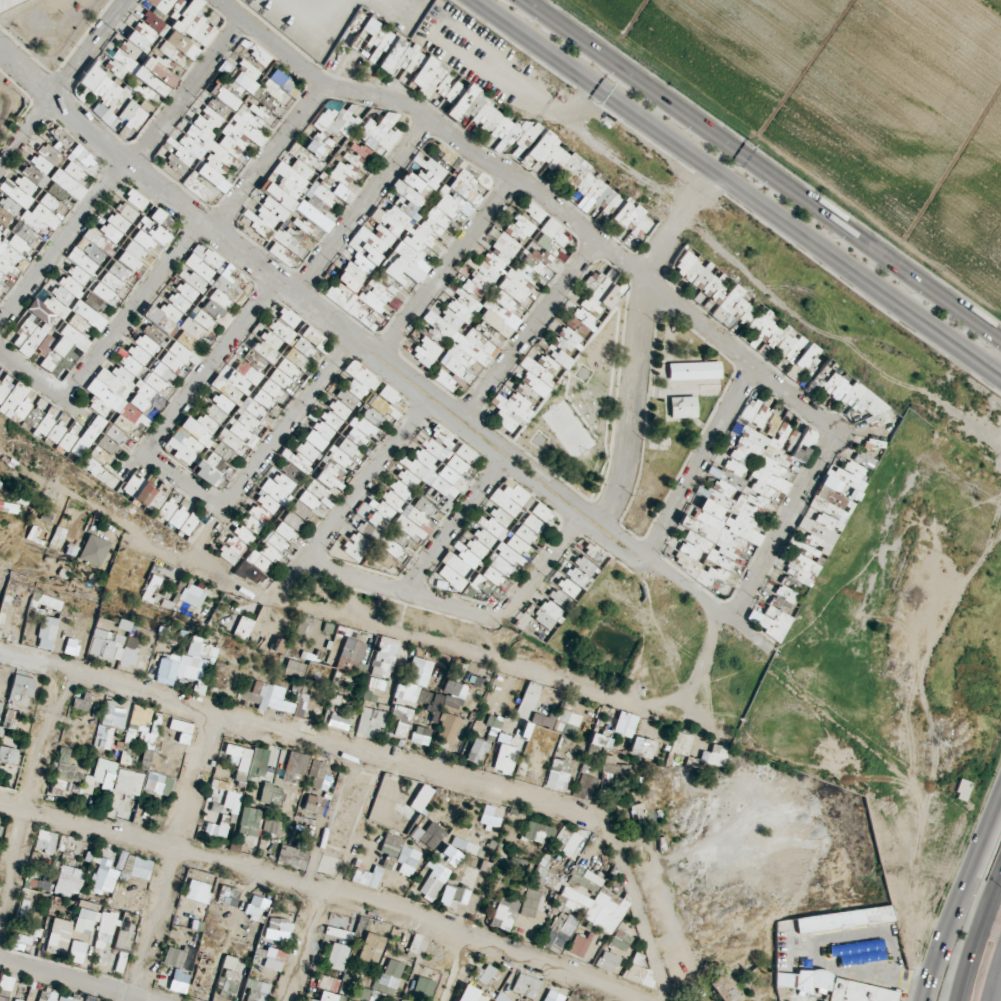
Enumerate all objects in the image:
park: (57, 31)
park: (582, 410)

